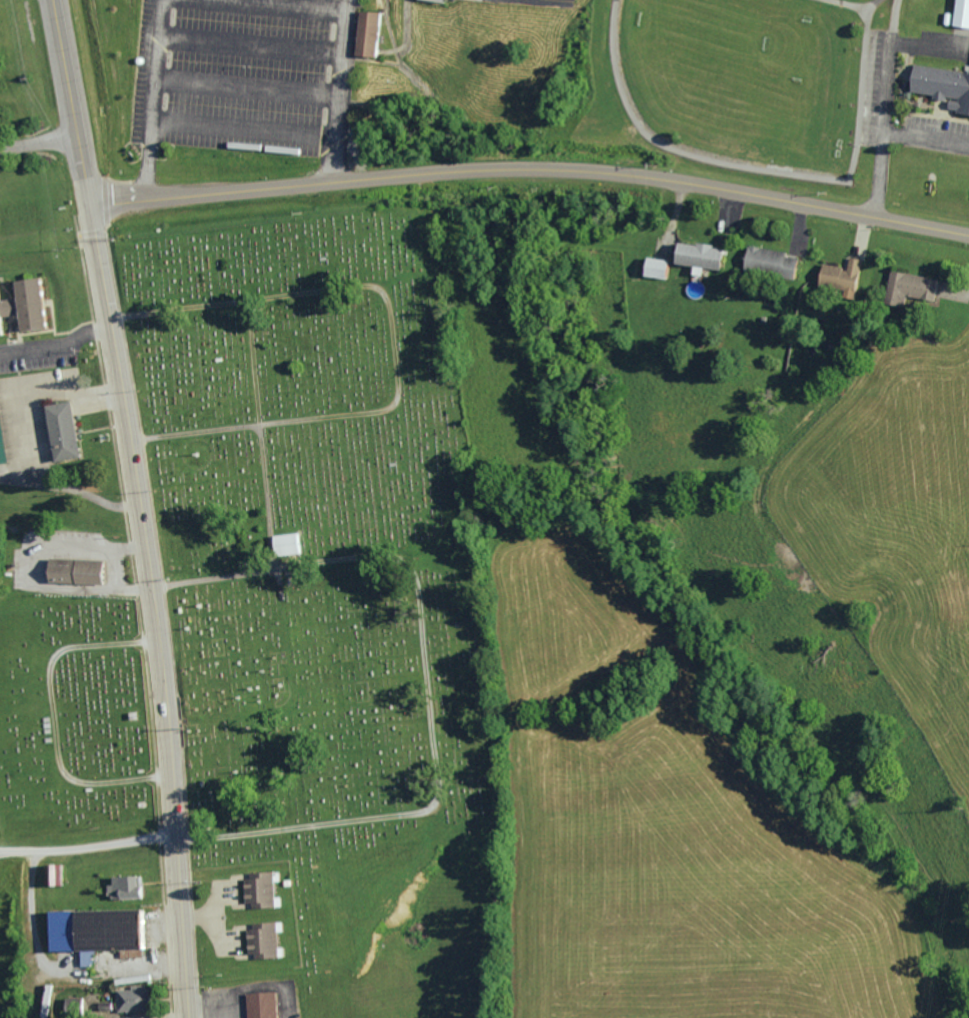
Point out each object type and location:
building: (438, 0)
park: (966, 0)
road: (288, 6)
building: (960, 13)
building: (372, 35)
road: (251, 44)
building: (943, 85)
road: (248, 87)
park: (747, 87)
road: (343, 88)
road: (885, 96)
road: (150, 99)
road: (70, 101)
road: (244, 129)
road: (38, 141)
road: (888, 145)
road: (530, 166)
building: (705, 254)
building: (776, 260)
building: (659, 267)
building: (845, 275)
building: (914, 286)
building: (26, 306)
road: (57, 346)
building: (66, 431)
building: (3, 443)
building: (294, 543)
building: (78, 570)
park: (329, 587)
road: (155, 608)
park: (70, 717)
building: (53, 875)
building: (126, 888)
building: (262, 889)
building: (100, 932)
building: (266, 940)
building: (135, 998)
building: (265, 1005)
building: (78, 1006)

